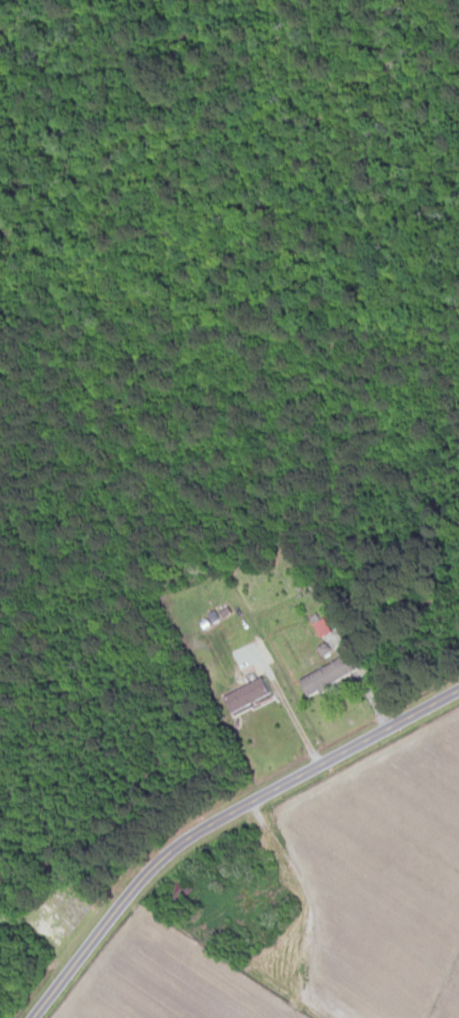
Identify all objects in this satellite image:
building: (322, 629)
building: (328, 676)
building: (247, 696)
road: (219, 822)
building: (180, 891)

